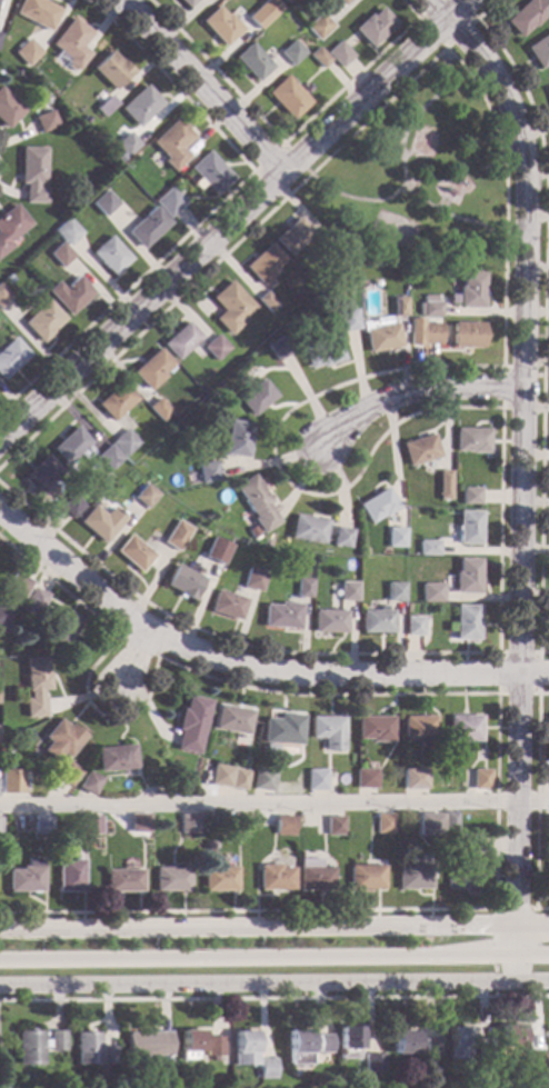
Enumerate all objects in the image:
building: (287, 1)
building: (187, 2)
building: (342, 2)
road: (438, 9)
building: (271, 11)
building: (37, 12)
building: (528, 16)
building: (259, 18)
building: (221, 27)
building: (318, 27)
building: (373, 28)
building: (0, 36)
building: (72, 43)
road: (446, 48)
building: (540, 51)
building: (27, 53)
building: (291, 53)
building: (339, 54)
building: (319, 58)
building: (252, 62)
building: (112, 71)
road: (199, 84)
building: (548, 92)
building: (289, 98)
building: (42, 99)
building: (106, 107)
building: (141, 107)
building: (8, 110)
building: (44, 121)
road: (289, 141)
building: (173, 144)
building: (127, 146)
road: (285, 146)
building: (120, 159)
road: (401, 162)
building: (211, 173)
park: (422, 173)
building: (33, 174)
building: (169, 202)
building: (104, 203)
road: (217, 207)
road: (233, 217)
road: (457, 219)
building: (11, 227)
building: (148, 228)
park: (392, 230)
building: (67, 232)
building: (293, 236)
building: (328, 243)
building: (61, 256)
building: (111, 256)
building: (264, 264)
building: (8, 280)
building: (470, 291)
building: (70, 295)
building: (3, 296)
building: (268, 302)
building: (398, 307)
building: (231, 308)
building: (431, 310)
road: (543, 317)
building: (348, 320)
building: (43, 321)
building: (430, 335)
building: (467, 336)
building: (379, 337)
building: (181, 341)
building: (216, 348)
building: (279, 349)
building: (321, 352)
building: (11, 357)
road: (502, 368)
building: (152, 370)
road: (412, 390)
building: (257, 398)
building: (117, 402)
road: (303, 402)
building: (160, 409)
building: (238, 439)
building: (472, 440)
building: (126, 442)
building: (71, 446)
building: (420, 450)
building: (110, 458)
building: (208, 472)
building: (41, 476)
building: (443, 485)
road: (521, 487)
building: (134, 490)
building: (146, 496)
building: (471, 497)
building: (257, 503)
building: (378, 506)
building: (71, 507)
building: (101, 522)
building: (469, 528)
building: (308, 530)
building: (252, 533)
building: (177, 536)
building: (342, 538)
building: (396, 538)
building: (428, 548)
building: (217, 551)
building: (133, 555)
building: (467, 577)
building: (253, 580)
building: (183, 582)
building: (18, 586)
building: (303, 589)
building: (348, 592)
building: (395, 592)
building: (431, 593)
building: (36, 600)
building: (228, 606)
building: (3, 616)
building: (281, 616)
building: (377, 621)
building: (329, 622)
building: (466, 623)
building: (413, 627)
building: (61, 630)
road: (158, 656)
road: (132, 659)
road: (250, 668)
building: (36, 687)
road: (499, 693)
road: (498, 699)
building: (232, 720)
building: (192, 726)
building: (548, 727)
building: (375, 729)
building: (465, 729)
building: (282, 730)
building: (327, 730)
building: (420, 730)
building: (61, 740)
building: (117, 760)
building: (68, 775)
building: (216, 776)
building: (366, 779)
building: (481, 779)
building: (238, 780)
building: (262, 780)
building: (316, 780)
building: (415, 780)
building: (10, 782)
building: (89, 783)
road: (536, 802)
road: (273, 803)
building: (449, 822)
building: (139, 824)
building: (238, 824)
building: (41, 825)
building: (383, 825)
building: (429, 825)
building: (90, 826)
building: (283, 826)
building: (333, 826)
building: (188, 829)
building: (465, 865)
building: (548, 874)
building: (68, 876)
building: (313, 876)
building: (24, 877)
building: (365, 877)
building: (413, 877)
building: (274, 878)
building: (218, 879)
building: (170, 880)
building: (121, 881)
road: (274, 926)
road: (495, 932)
road: (273, 958)
road: (273, 980)
road: (274, 998)
building: (510, 1036)
building: (403, 1042)
building: (348, 1044)
building: (457, 1044)
building: (147, 1045)
building: (190, 1045)
building: (323, 1045)
building: (37, 1047)
building: (212, 1048)
building: (298, 1048)
building: (430, 1048)
building: (86, 1049)
building: (242, 1049)
building: (482, 1049)
building: (106, 1056)
building: (537, 1060)
building: (372, 1064)
building: (266, 1069)
road: (2, 1074)

